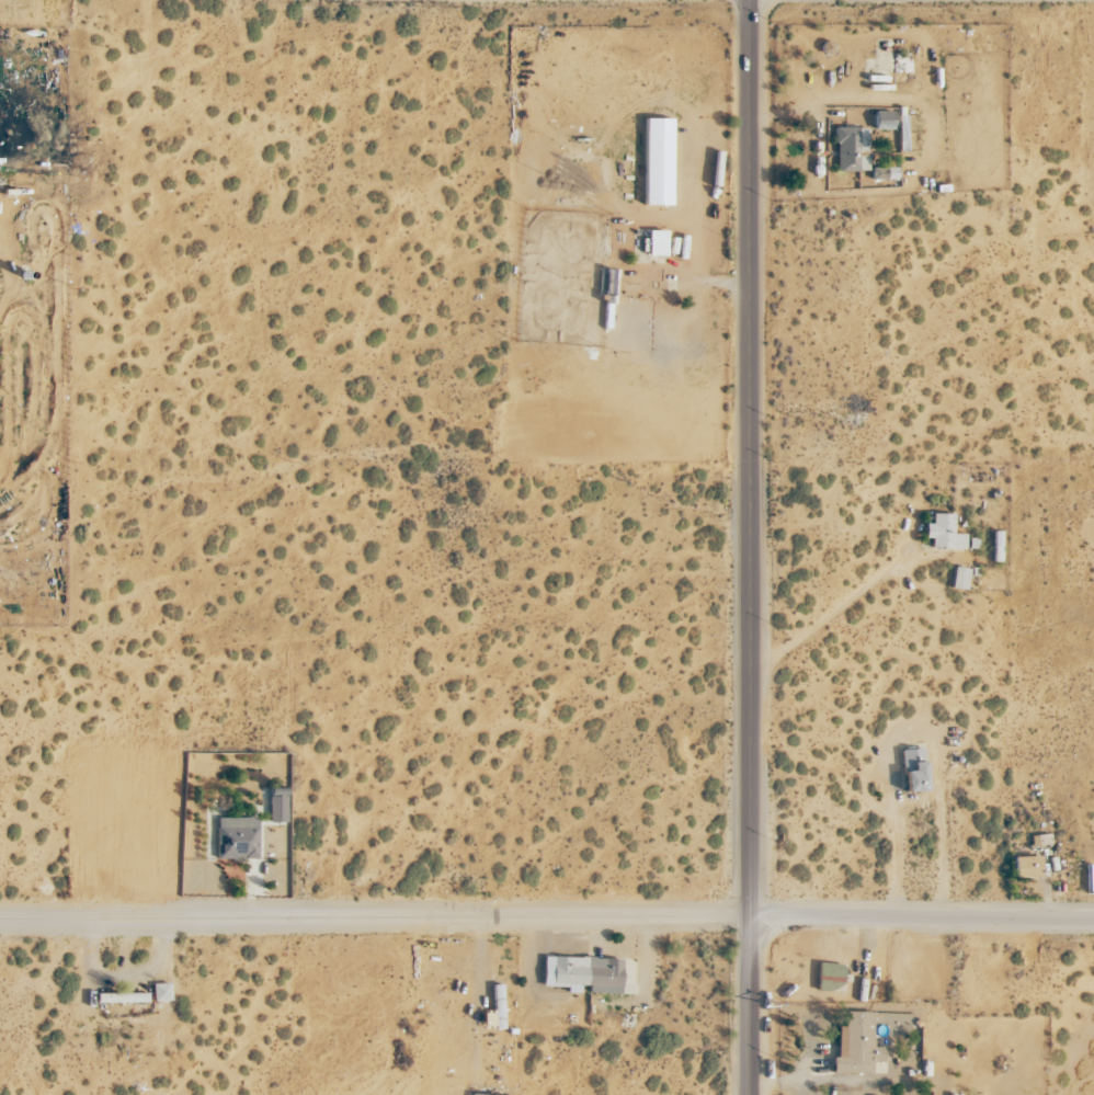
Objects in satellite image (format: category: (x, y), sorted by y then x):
building: (882, 119)
building: (851, 148)
building: (657, 161)
building: (882, 172)
building: (656, 242)
building: (942, 533)
road: (751, 547)
building: (995, 551)
building: (958, 578)
road: (831, 612)
road: (911, 727)
building: (912, 769)
building: (276, 805)
building: (236, 837)
building: (1039, 840)
building: (1025, 866)
road: (547, 919)
building: (582, 973)
building: (829, 977)
building: (160, 992)
building: (121, 997)
building: (854, 1045)

